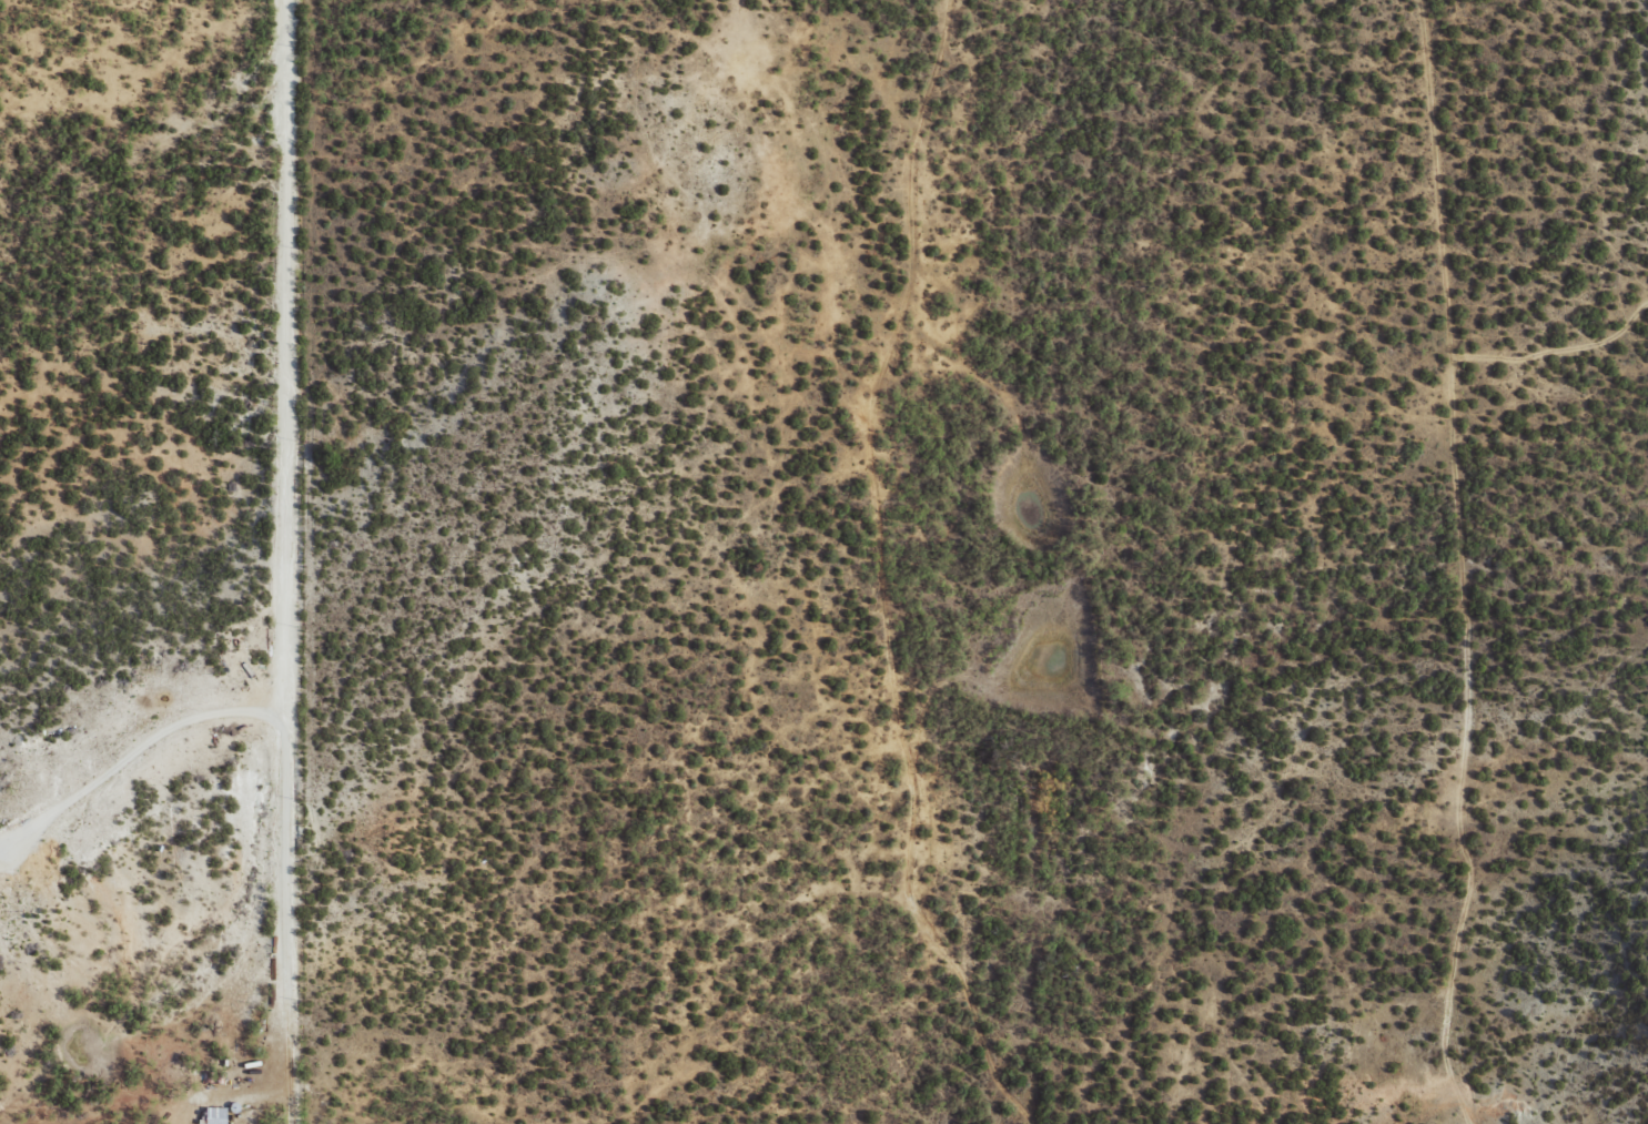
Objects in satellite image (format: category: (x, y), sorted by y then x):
road: (1015, 576)

